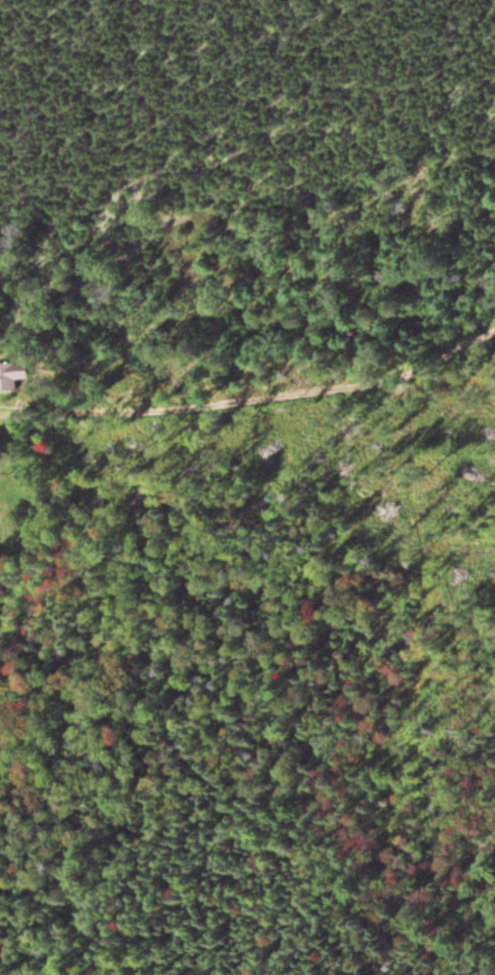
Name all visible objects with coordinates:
road: (241, 363)
building: (11, 378)

